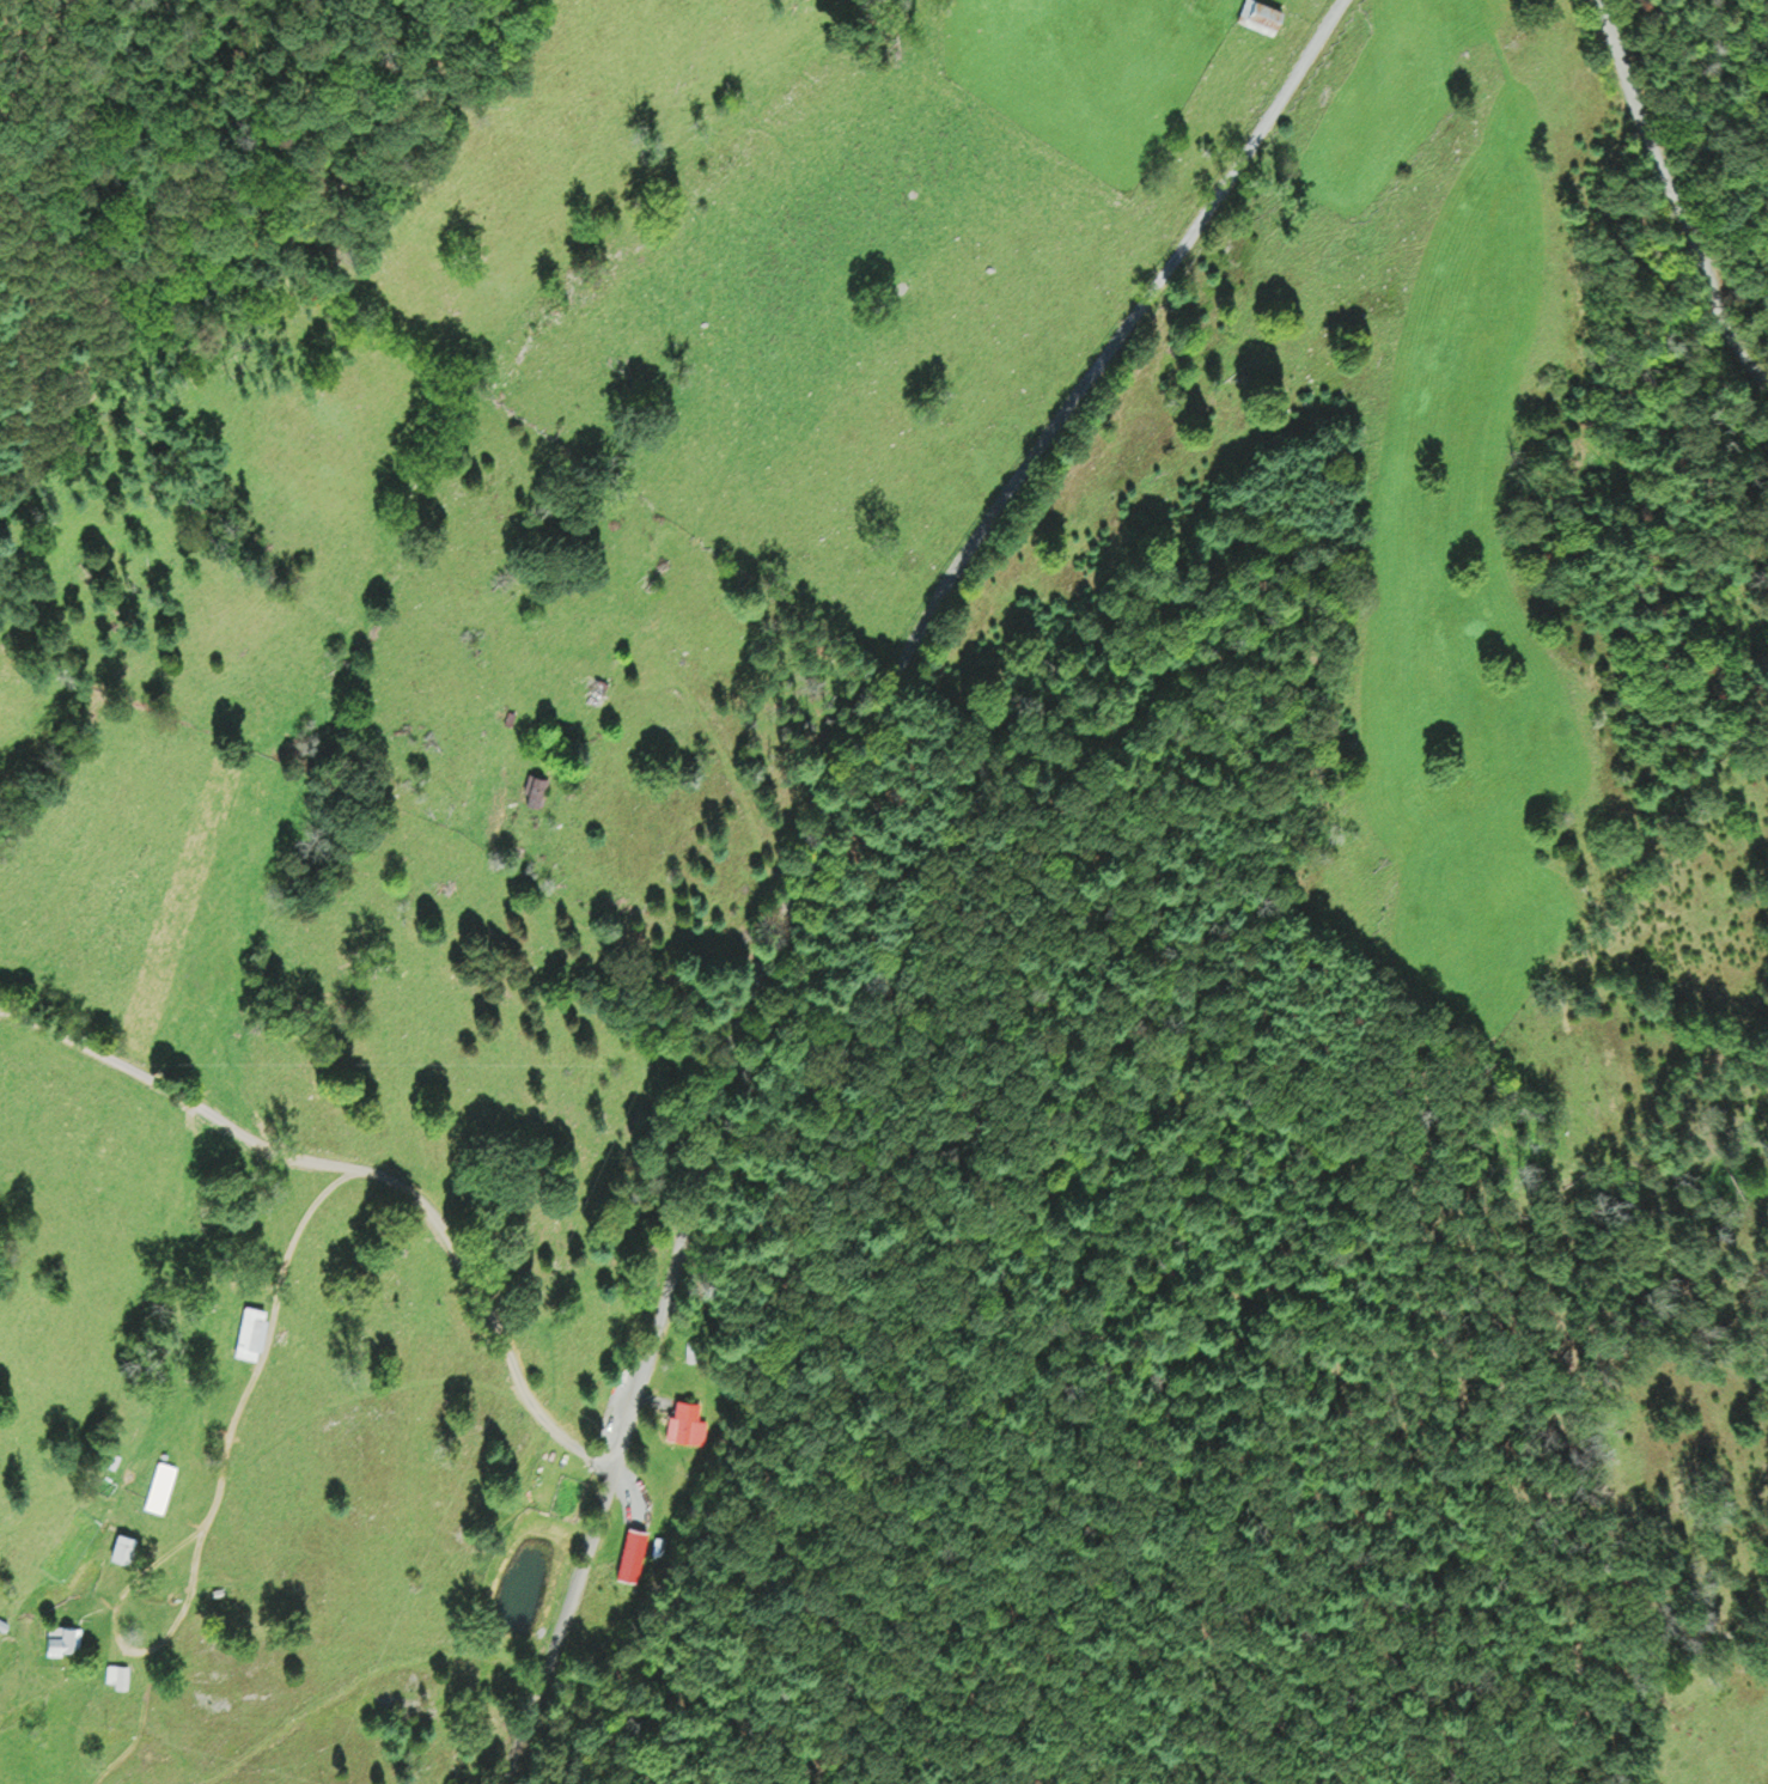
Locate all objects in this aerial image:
building: (1262, 14)
road: (1689, 188)
building: (599, 687)
building: (538, 790)
road: (819, 842)
road: (366, 1167)
building: (250, 1331)
road: (266, 1338)
building: (691, 1345)
building: (685, 1419)
building: (160, 1485)
building: (634, 1544)
building: (124, 1546)
building: (62, 1638)
road: (126, 1650)
building: (118, 1674)
road: (139, 1723)
building: (47, 1762)

